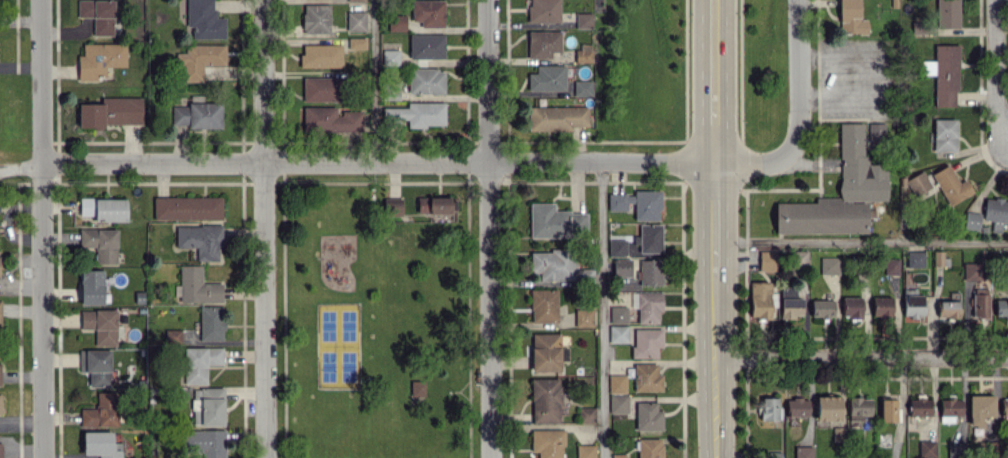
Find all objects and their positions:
building: (544, 10)
building: (429, 12)
building: (948, 13)
building: (851, 17)
building: (584, 20)
building: (543, 43)
building: (426, 46)
building: (583, 54)
road: (995, 70)
building: (944, 73)
building: (548, 78)
building: (426, 80)
road: (373, 81)
road: (39, 82)
building: (583, 88)
building: (416, 114)
road: (795, 117)
building: (557, 118)
building: (876, 131)
building: (945, 135)
road: (374, 161)
building: (862, 180)
building: (918, 183)
building: (951, 185)
building: (637, 203)
building: (435, 205)
building: (394, 208)
building: (996, 212)
building: (971, 220)
building: (556, 222)
road: (263, 228)
road: (487, 229)
road: (709, 229)
building: (649, 238)
road: (858, 242)
building: (617, 247)
building: (915, 259)
building: (767, 261)
building: (798, 261)
building: (553, 264)
building: (828, 265)
building: (891, 265)
building: (621, 267)
building: (972, 271)
building: (650, 272)
building: (759, 299)
building: (789, 303)
building: (912, 303)
building: (980, 303)
building: (543, 305)
building: (851, 306)
building: (881, 306)
building: (648, 307)
building: (1001, 307)
building: (821, 308)
road: (602, 309)
building: (948, 309)
road: (41, 311)
park: (375, 314)
building: (618, 314)
building: (583, 317)
building: (618, 333)
building: (646, 342)
park: (338, 345)
building: (546, 352)
road: (859, 356)
building: (646, 377)
building: (616, 383)
building: (418, 387)
building: (545, 400)
building: (618, 403)
building: (920, 406)
building: (796, 407)
building: (827, 407)
building: (1004, 407)
building: (768, 408)
building: (858, 408)
building: (980, 408)
building: (949, 409)
building: (888, 410)
building: (585, 415)
building: (647, 416)
building: (547, 443)
park: (341, 447)
building: (649, 448)
building: (927, 449)
building: (956, 450)
building: (585, 451)
building: (803, 452)
building: (618, 455)

